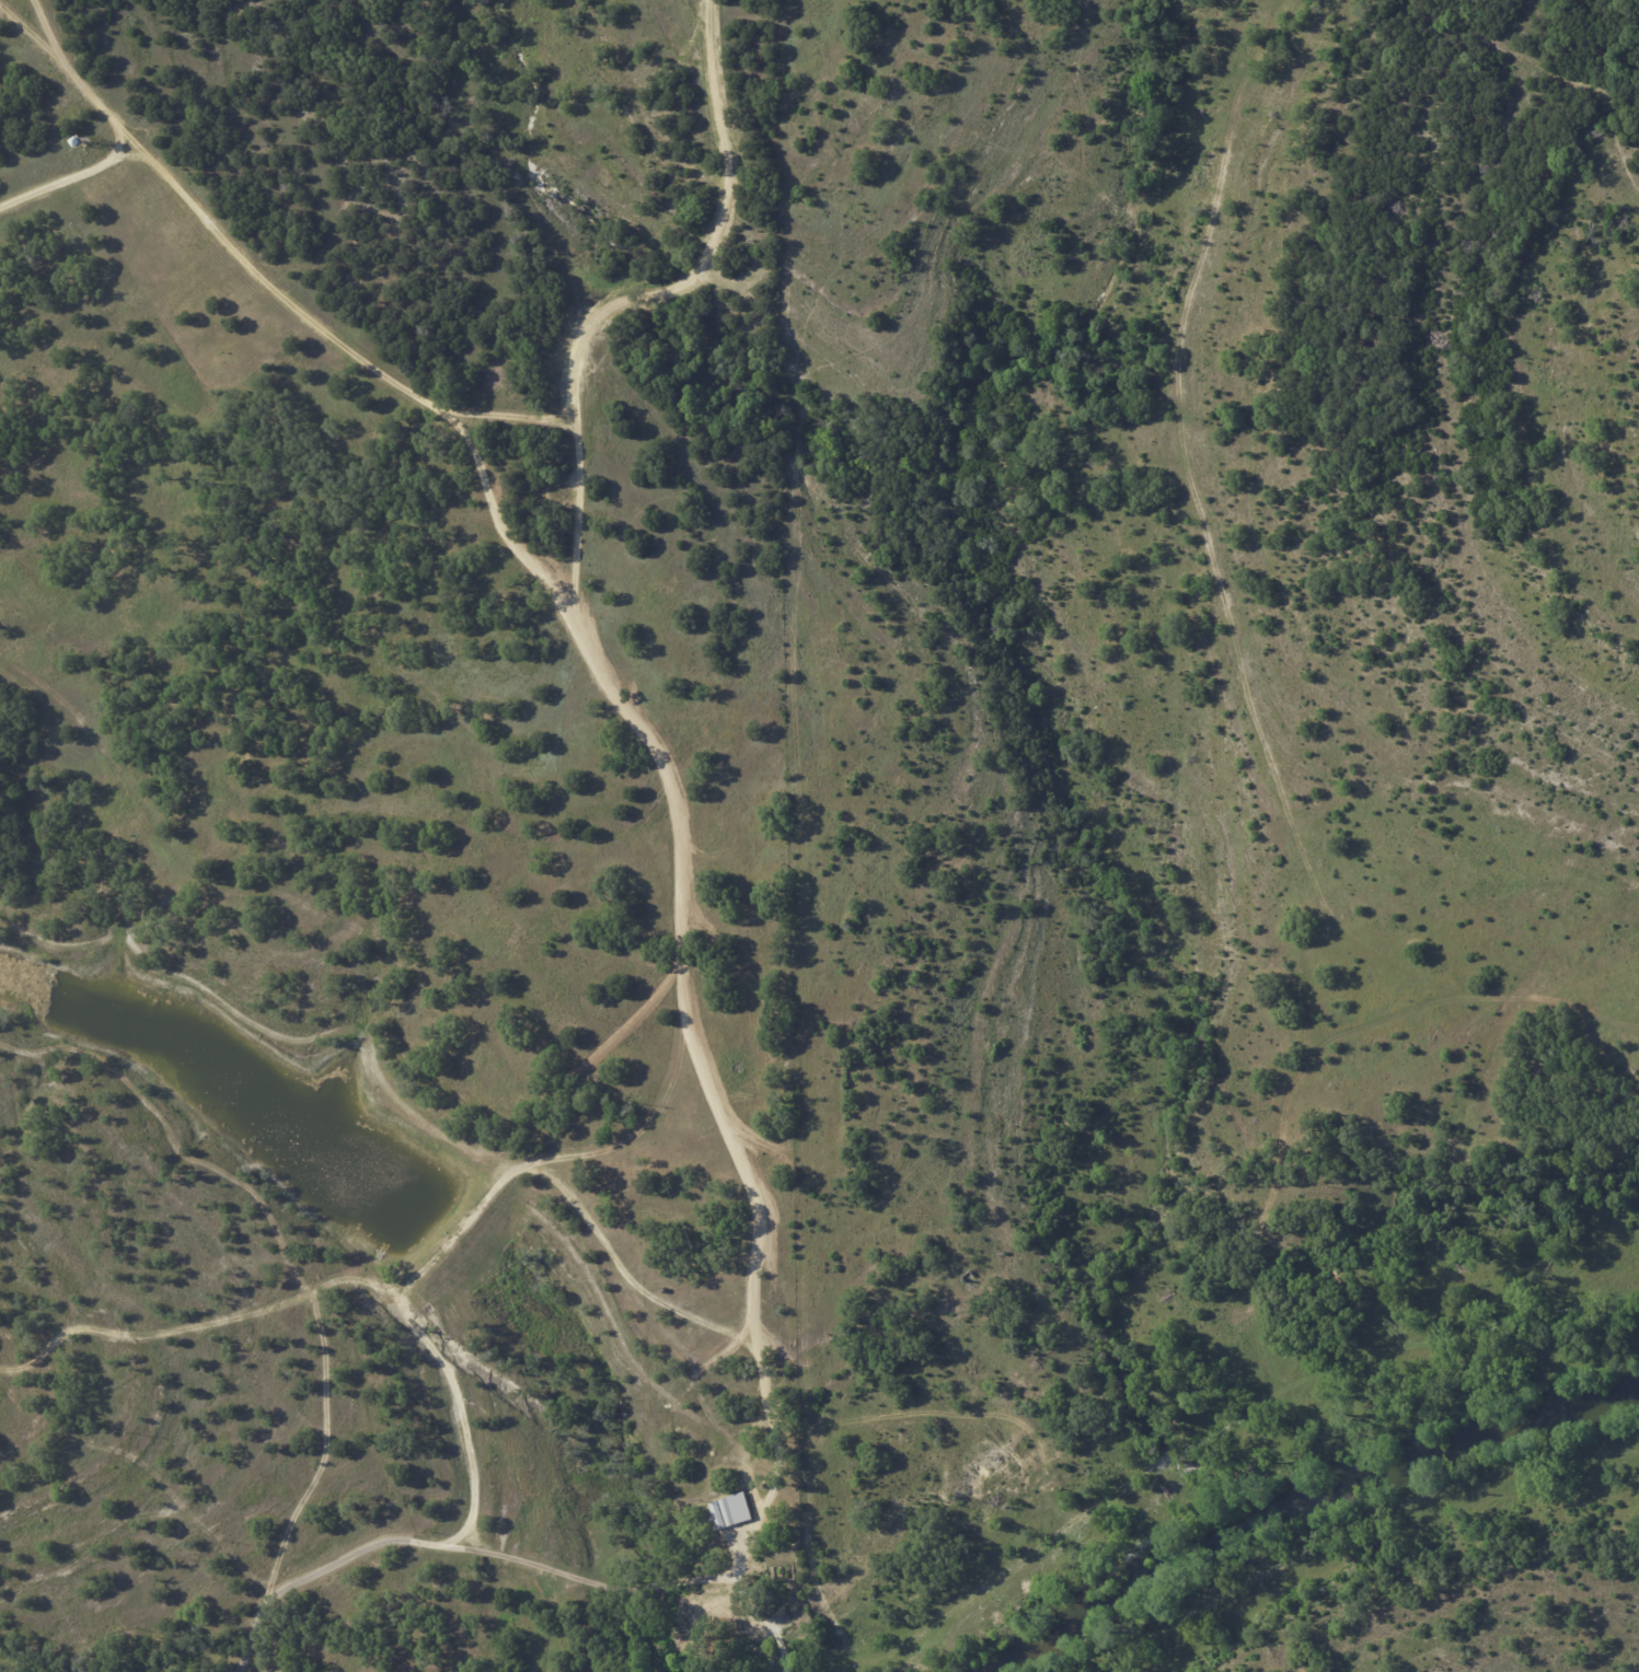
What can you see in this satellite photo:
building: (729, 1511)
road: (470, 1548)

